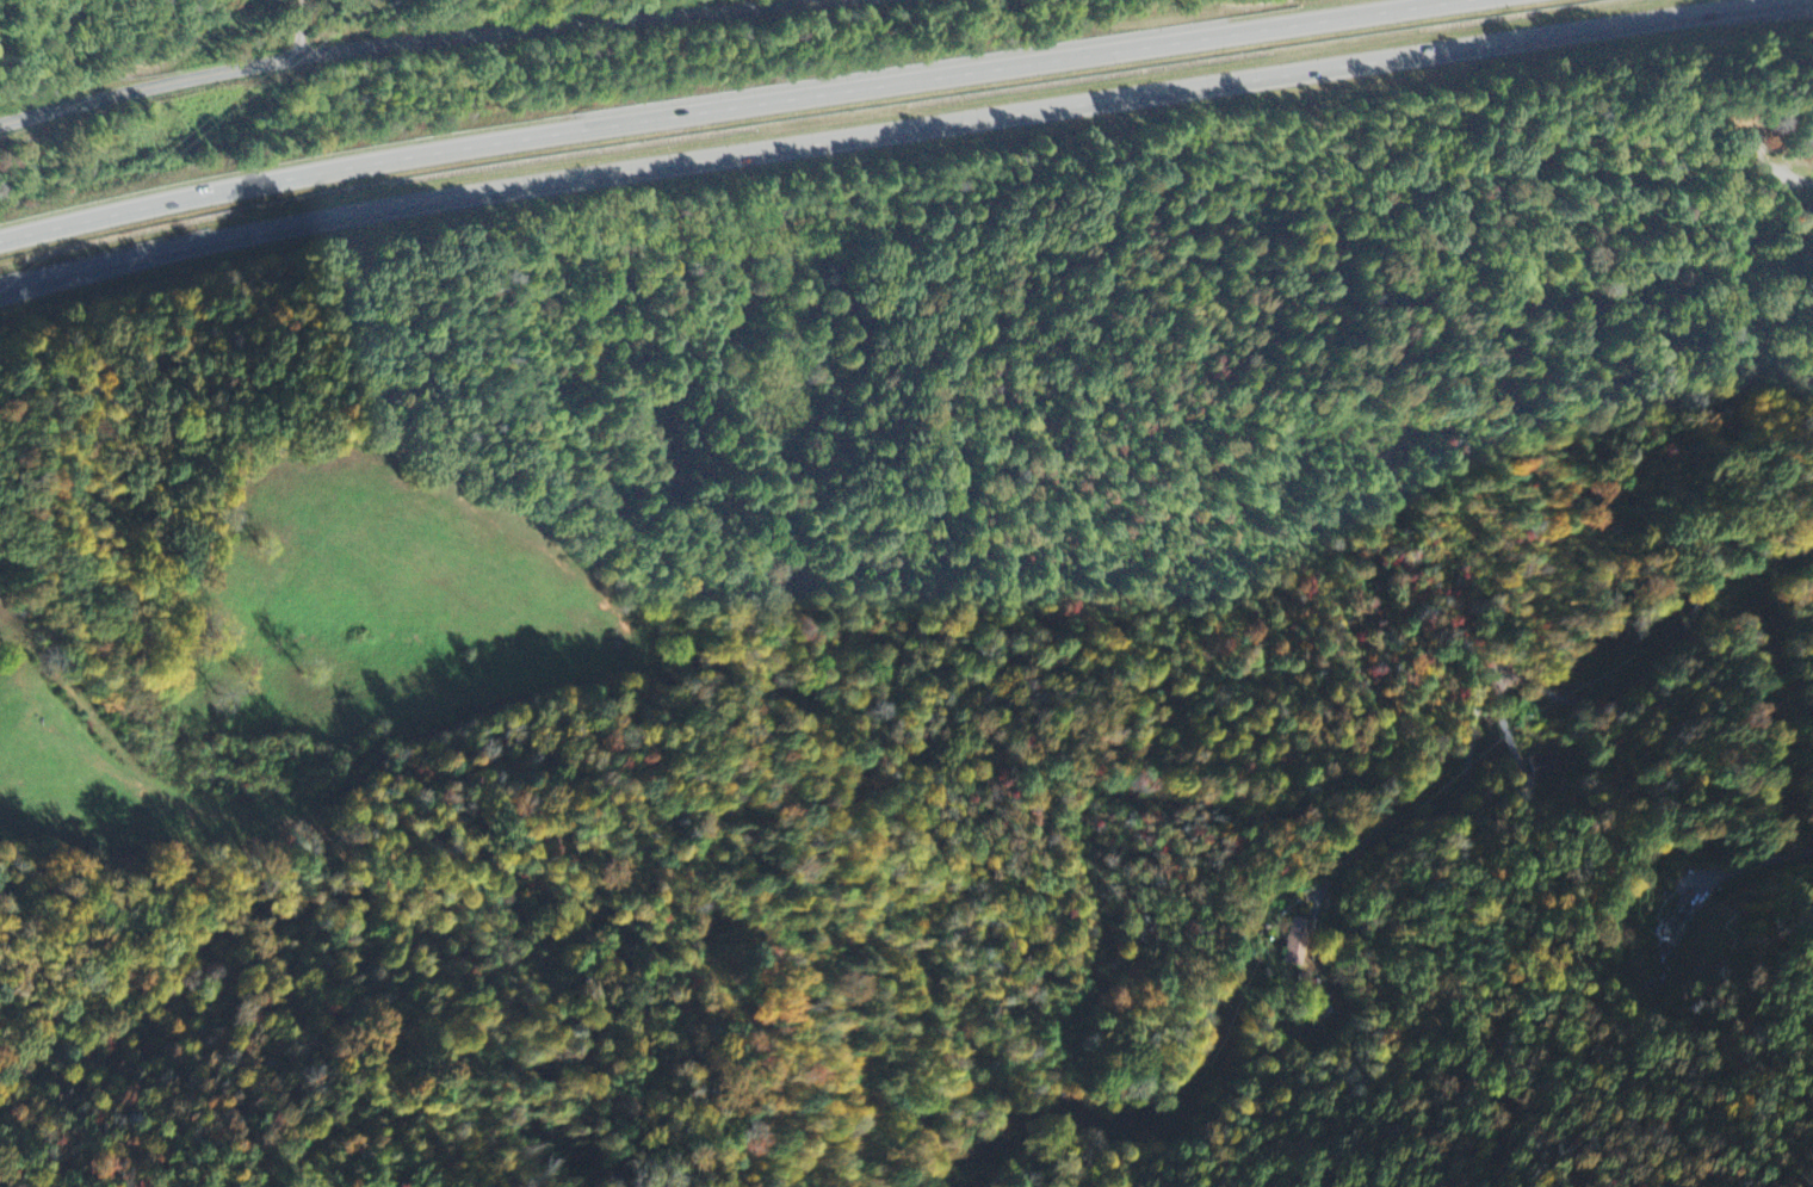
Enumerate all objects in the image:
road: (406, 44)
road: (729, 107)
road: (892, 132)
building: (1807, 137)
power tower: (182, 168)
road: (1808, 214)
power tower: (61, 262)
road: (1678, 642)
building: (1546, 765)
road: (1448, 817)
building: (1673, 926)
building: (1295, 942)

